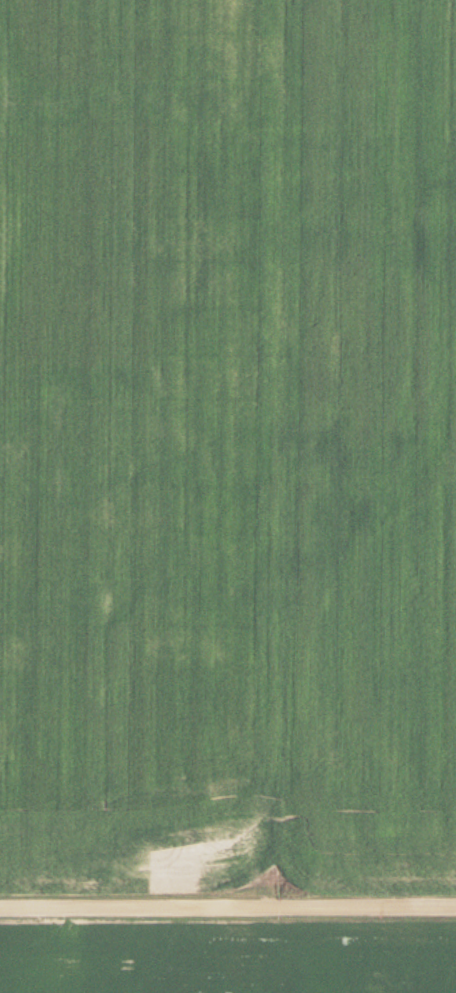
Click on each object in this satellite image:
road: (227, 899)

